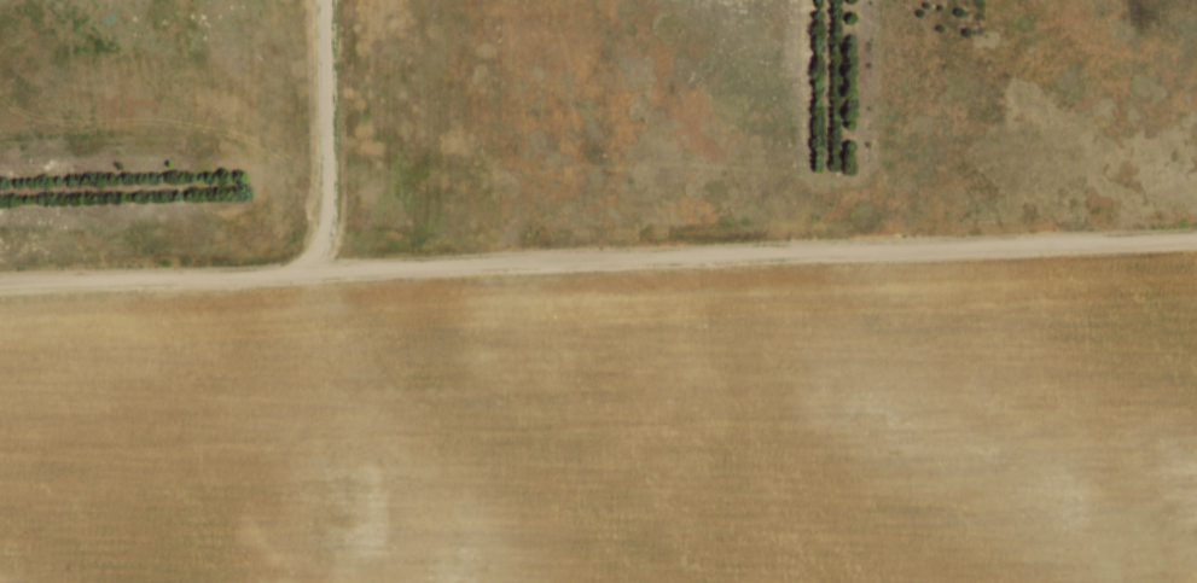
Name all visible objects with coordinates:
road: (331, 139)
road: (598, 260)
crop: (614, 426)

